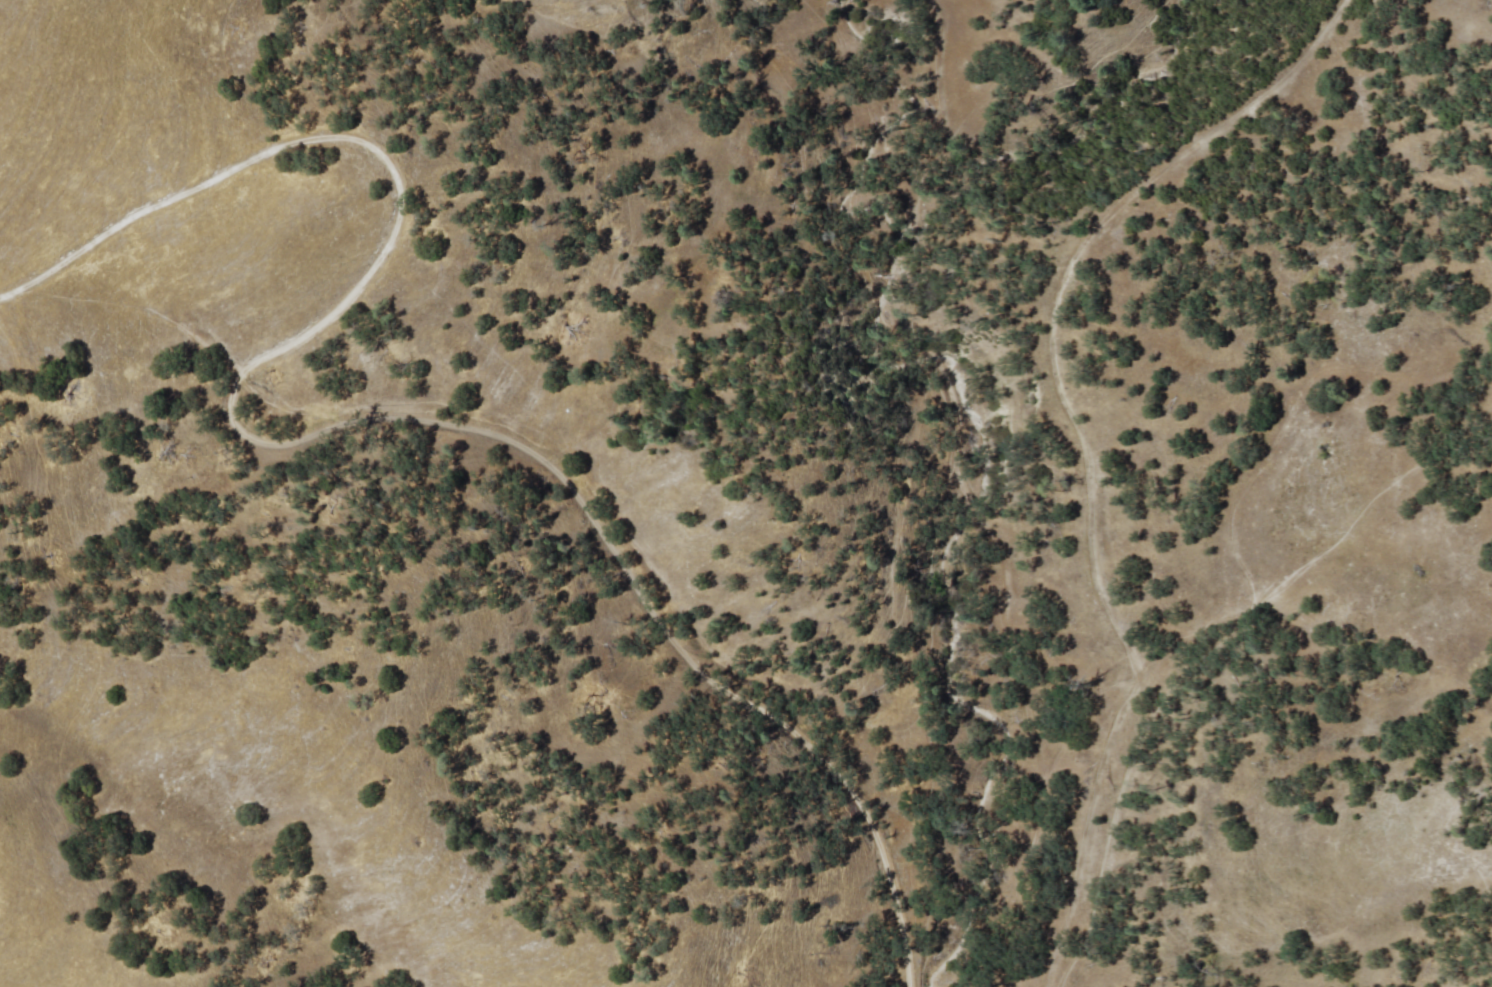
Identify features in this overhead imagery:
road: (321, 430)
road: (1077, 443)

